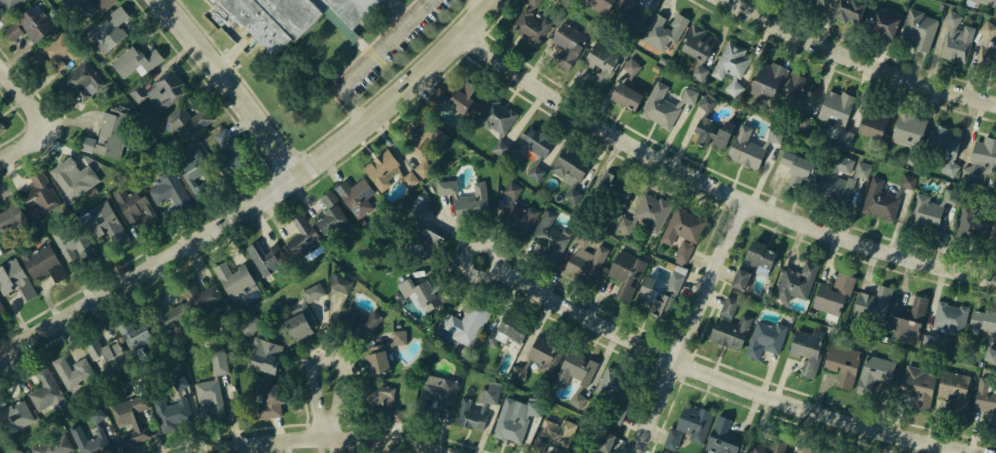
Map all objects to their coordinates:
building: (991, 1)
building: (819, 2)
road: (481, 5)
building: (599, 5)
building: (9, 7)
building: (90, 7)
building: (352, 8)
building: (845, 8)
building: (627, 17)
building: (271, 18)
building: (878, 21)
building: (29, 24)
building: (531, 25)
building: (918, 28)
building: (664, 31)
building: (114, 32)
building: (956, 38)
building: (568, 43)
building: (984, 48)
building: (626, 49)
building: (697, 49)
building: (51, 52)
building: (139, 58)
road: (372, 58)
building: (662, 59)
road: (860, 59)
building: (600, 63)
building: (731, 64)
building: (655, 67)
building: (769, 78)
building: (77, 81)
road: (234, 85)
building: (626, 87)
building: (163, 89)
building: (458, 96)
road: (26, 97)
building: (437, 99)
building: (798, 99)
building: (664, 105)
building: (836, 111)
building: (189, 117)
building: (874, 120)
building: (495, 121)
building: (709, 127)
building: (1, 129)
building: (106, 134)
building: (908, 134)
building: (1, 138)
road: (26, 146)
building: (945, 146)
building: (532, 148)
building: (749, 148)
building: (419, 149)
building: (232, 152)
building: (981, 156)
building: (799, 167)
building: (75, 168)
building: (568, 171)
building: (197, 172)
building: (389, 174)
building: (842, 177)
building: (410, 180)
road: (716, 184)
building: (443, 186)
building: (34, 189)
building: (171, 190)
building: (358, 194)
building: (609, 194)
road: (263, 198)
building: (886, 200)
building: (469, 202)
building: (134, 207)
building: (929, 208)
building: (414, 209)
building: (9, 210)
building: (329, 211)
building: (516, 212)
building: (646, 213)
building: (973, 222)
building: (105, 223)
building: (683, 231)
building: (301, 233)
building: (550, 235)
building: (419, 239)
building: (75, 246)
building: (267, 255)
building: (584, 259)
building: (44, 263)
building: (752, 264)
building: (625, 272)
building: (15, 279)
building: (236, 281)
building: (794, 281)
building: (339, 283)
building: (416, 290)
building: (313, 292)
building: (659, 294)
building: (833, 294)
building: (202, 298)
building: (872, 305)
building: (2, 308)
building: (168, 313)
building: (359, 321)
building: (249, 322)
building: (908, 322)
building: (946, 322)
building: (297, 323)
building: (462, 324)
road: (694, 326)
building: (731, 326)
building: (504, 329)
building: (131, 335)
building: (765, 340)
building: (988, 340)
building: (104, 349)
building: (807, 353)
building: (538, 357)
building: (264, 359)
building: (218, 360)
building: (378, 360)
building: (77, 365)
building: (843, 366)
building: (875, 373)
building: (574, 375)
road: (723, 378)
building: (180, 383)
building: (918, 388)
building: (954, 388)
building: (439, 389)
building: (40, 390)
building: (615, 390)
building: (202, 392)
building: (986, 398)
building: (267, 401)
building: (377, 404)
road: (331, 406)
building: (97, 415)
building: (165, 415)
building: (15, 418)
building: (472, 418)
building: (512, 419)
building: (130, 421)
building: (693, 421)
building: (554, 433)
building: (0, 435)
road: (328, 437)
building: (671, 438)
building: (721, 439)
building: (89, 440)
building: (602, 440)
building: (53, 445)
building: (764, 446)
building: (579, 450)
building: (807, 451)
building: (21, 452)

